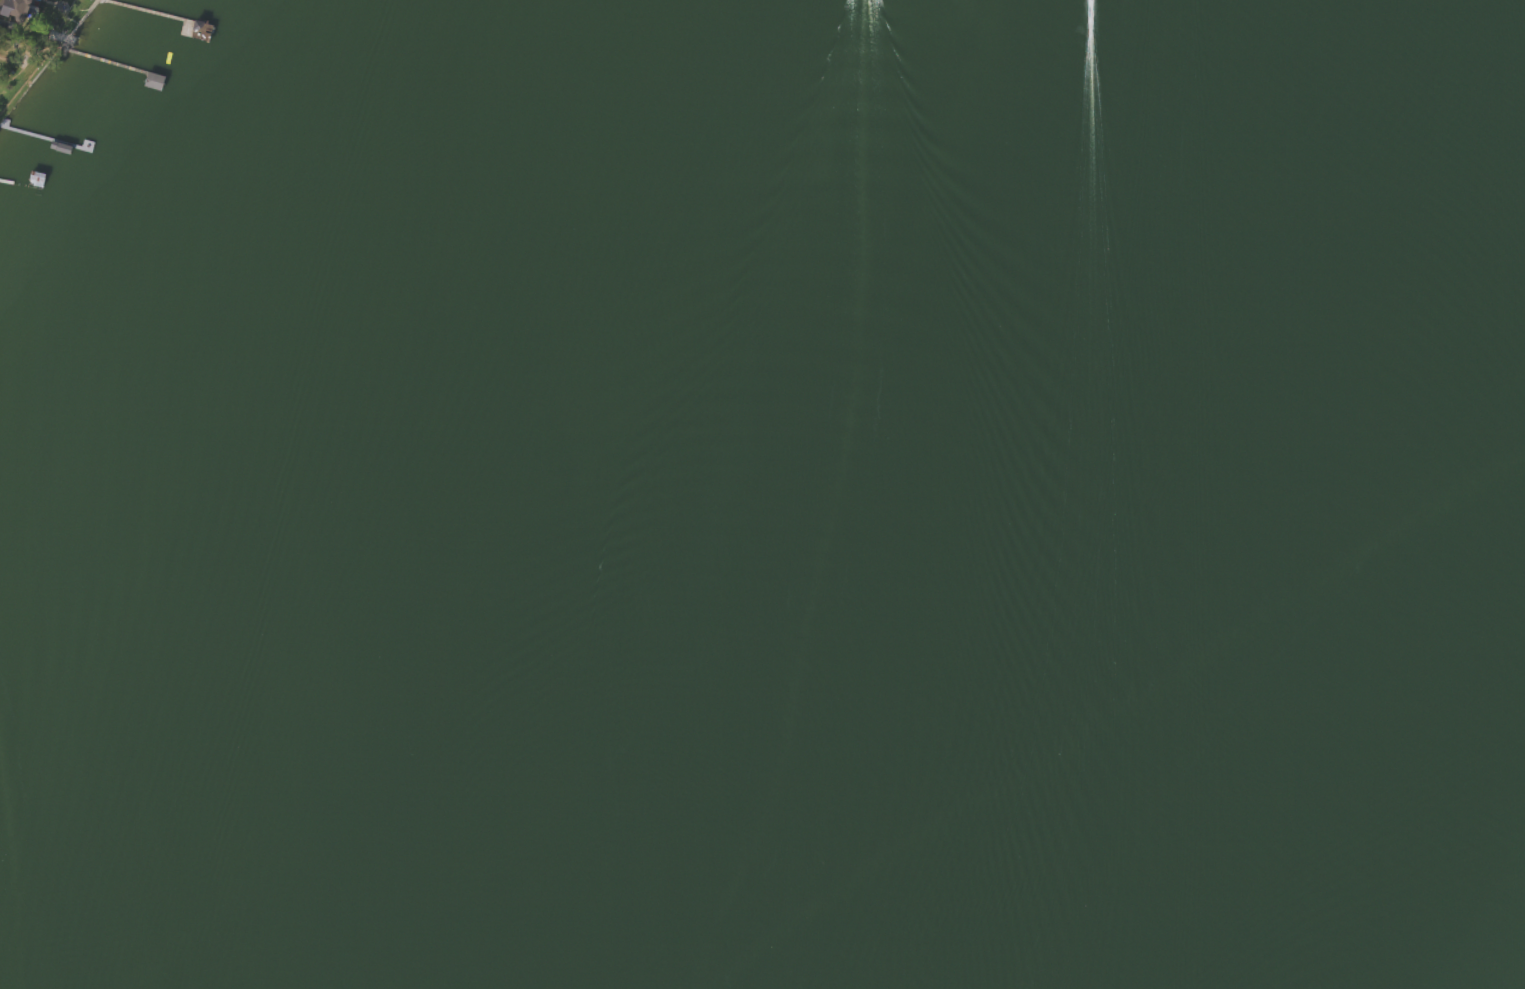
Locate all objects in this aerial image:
building: (13, 8)
road: (4, 23)
building: (33, 180)
river: (1278, 669)

